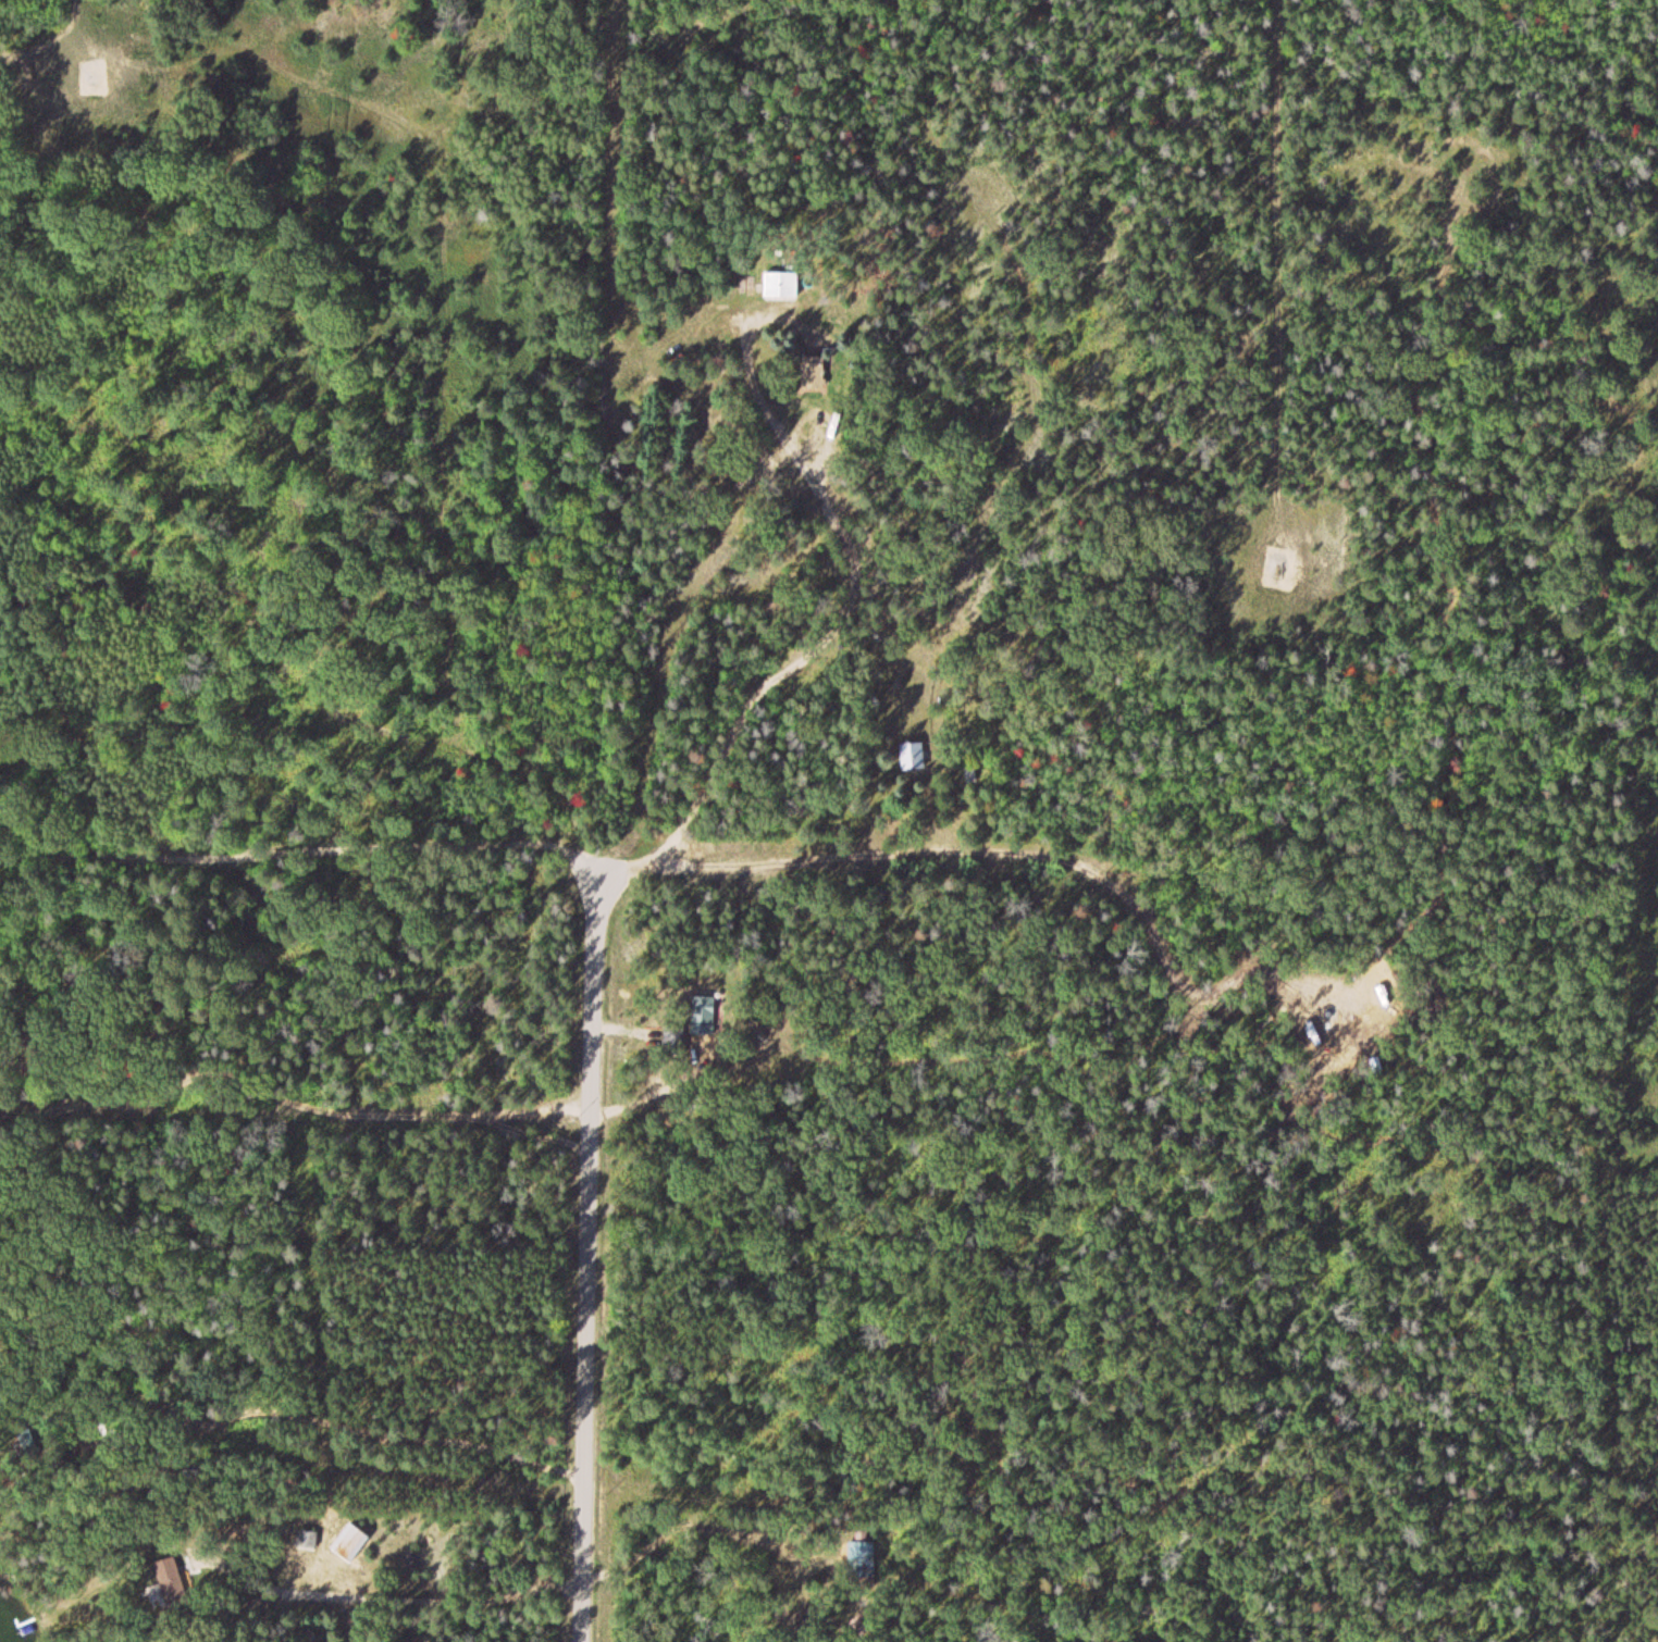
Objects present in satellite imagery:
road: (47, 38)
road: (1278, 266)
building: (780, 287)
building: (811, 372)
petroleum well: (1278, 574)
building: (913, 757)
road: (528, 858)
building: (702, 1012)
building: (672, 1037)
road: (385, 1095)
road: (591, 1259)
building: (306, 1541)
building: (350, 1544)
building: (859, 1562)
road: (320, 1576)

